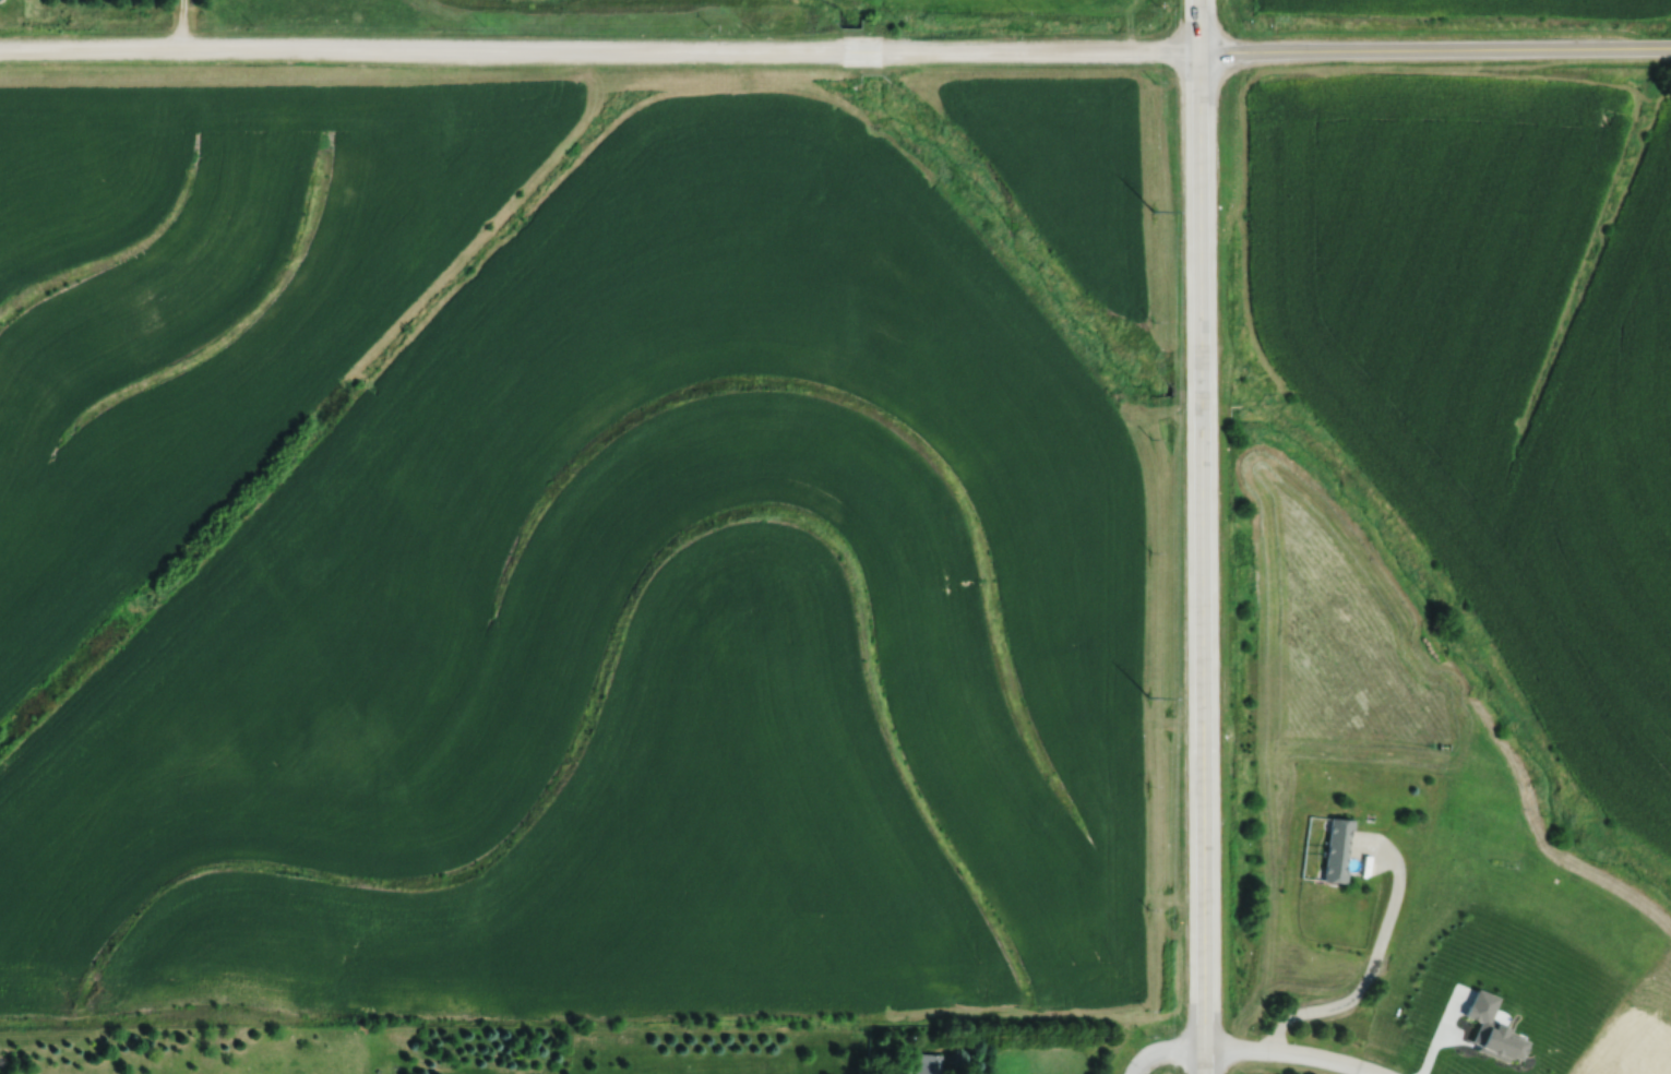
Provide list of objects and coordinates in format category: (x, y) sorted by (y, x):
road: (181, 25)
road: (1434, 50)
road: (598, 51)
power tower: (1151, 211)
road: (1198, 537)
power tower: (1148, 697)
building: (1333, 851)
road: (1369, 967)
road: (1160, 1049)
road: (1288, 1053)
building: (920, 1063)

